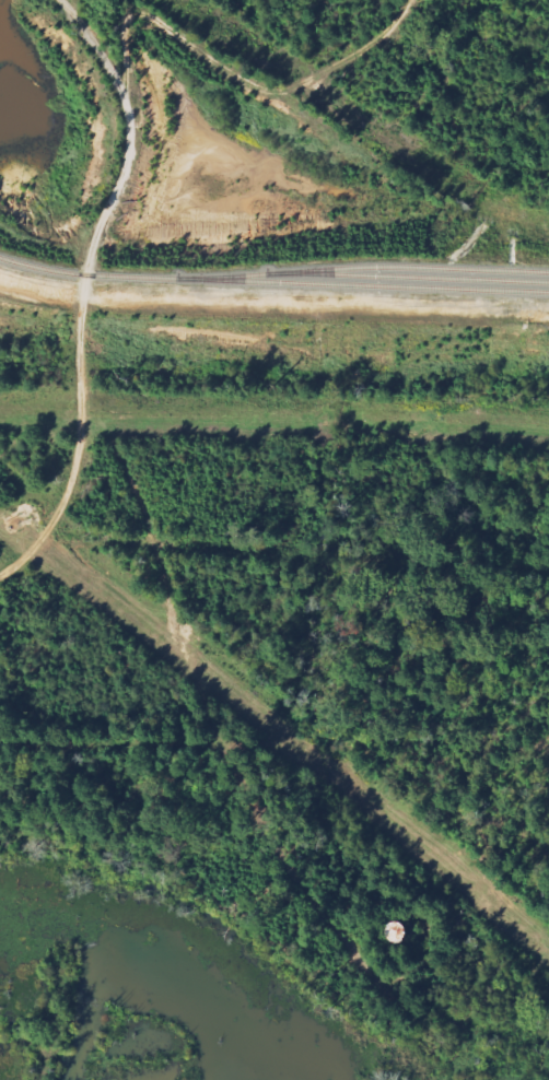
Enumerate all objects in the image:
railway: (366, 267)
railway: (423, 277)
railway: (272, 281)
road: (78, 287)

